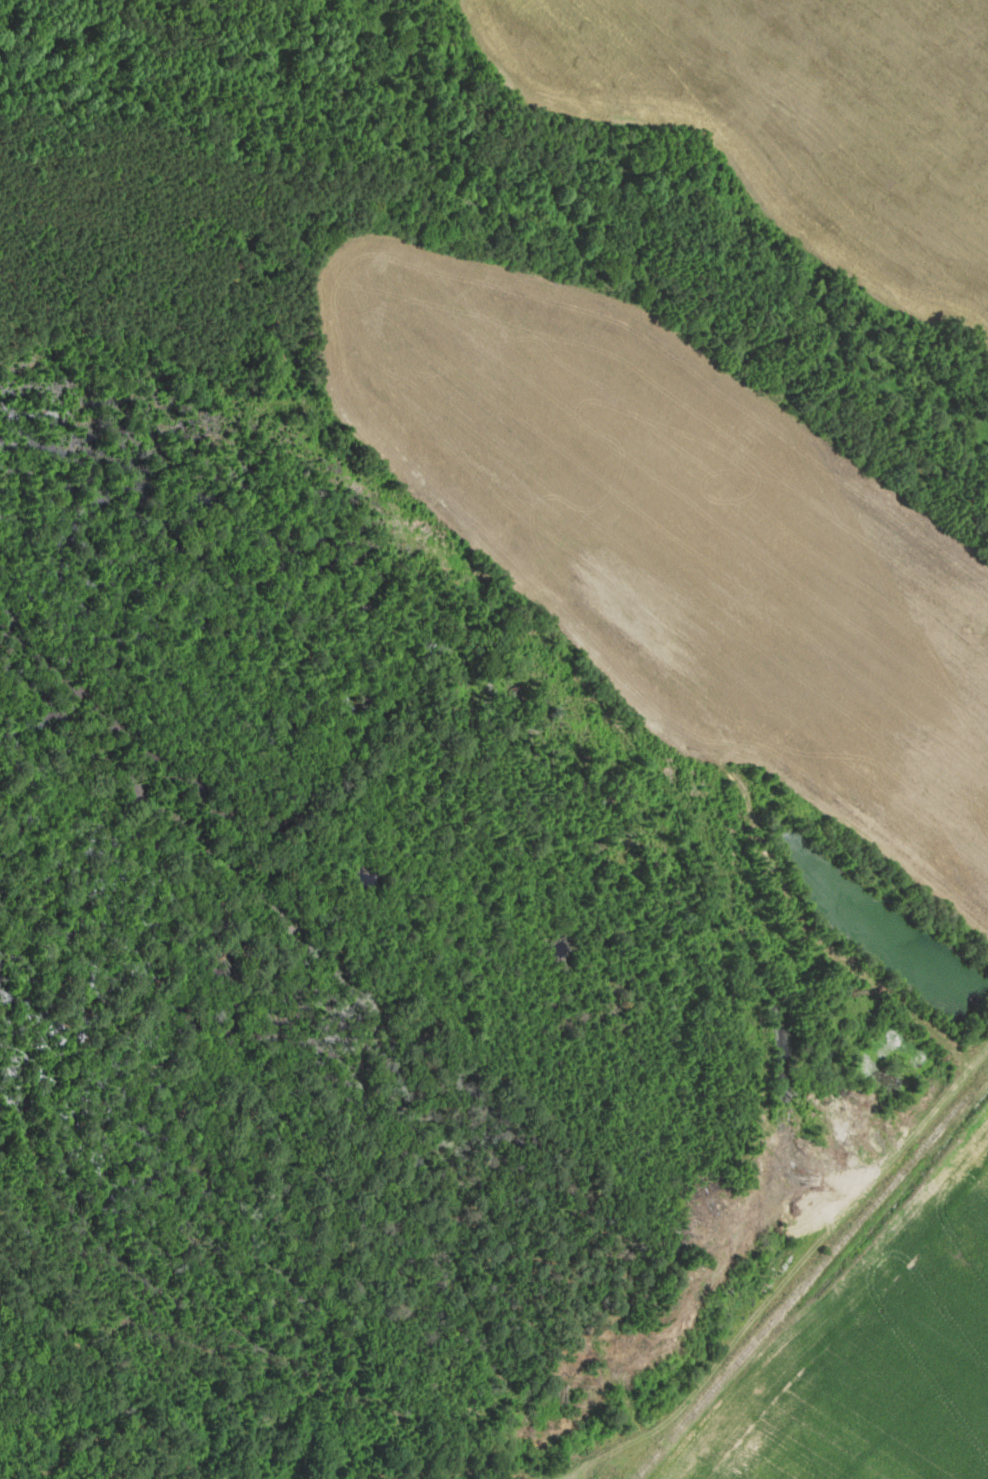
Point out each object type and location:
railway: (813, 1277)

